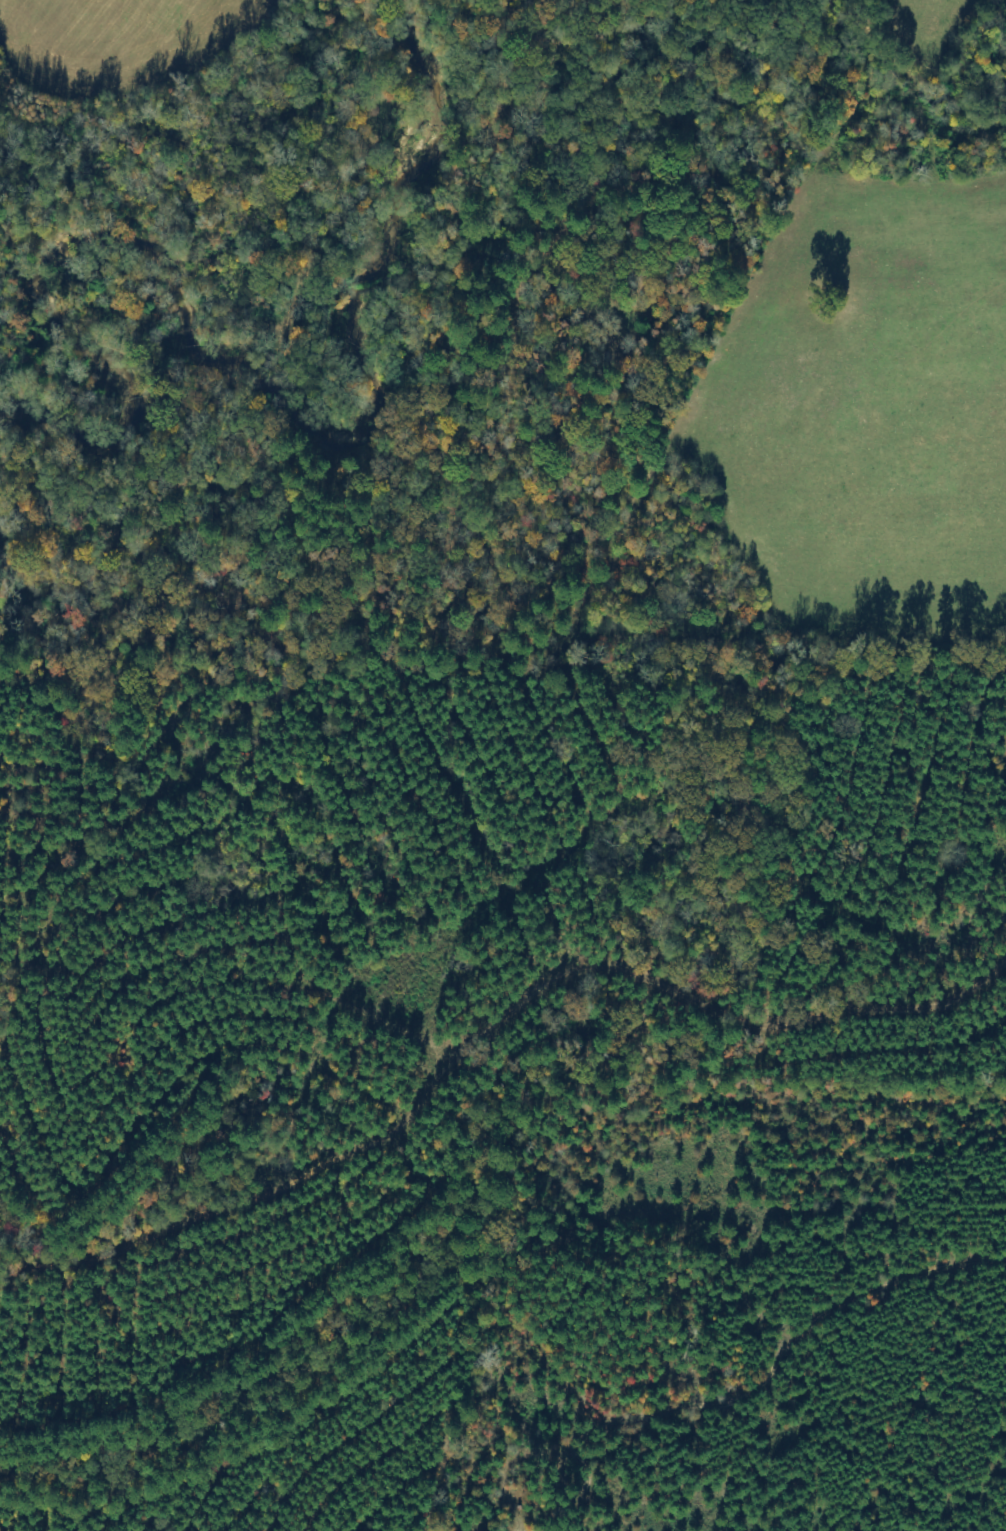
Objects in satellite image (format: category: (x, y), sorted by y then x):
road: (490, 1057)

